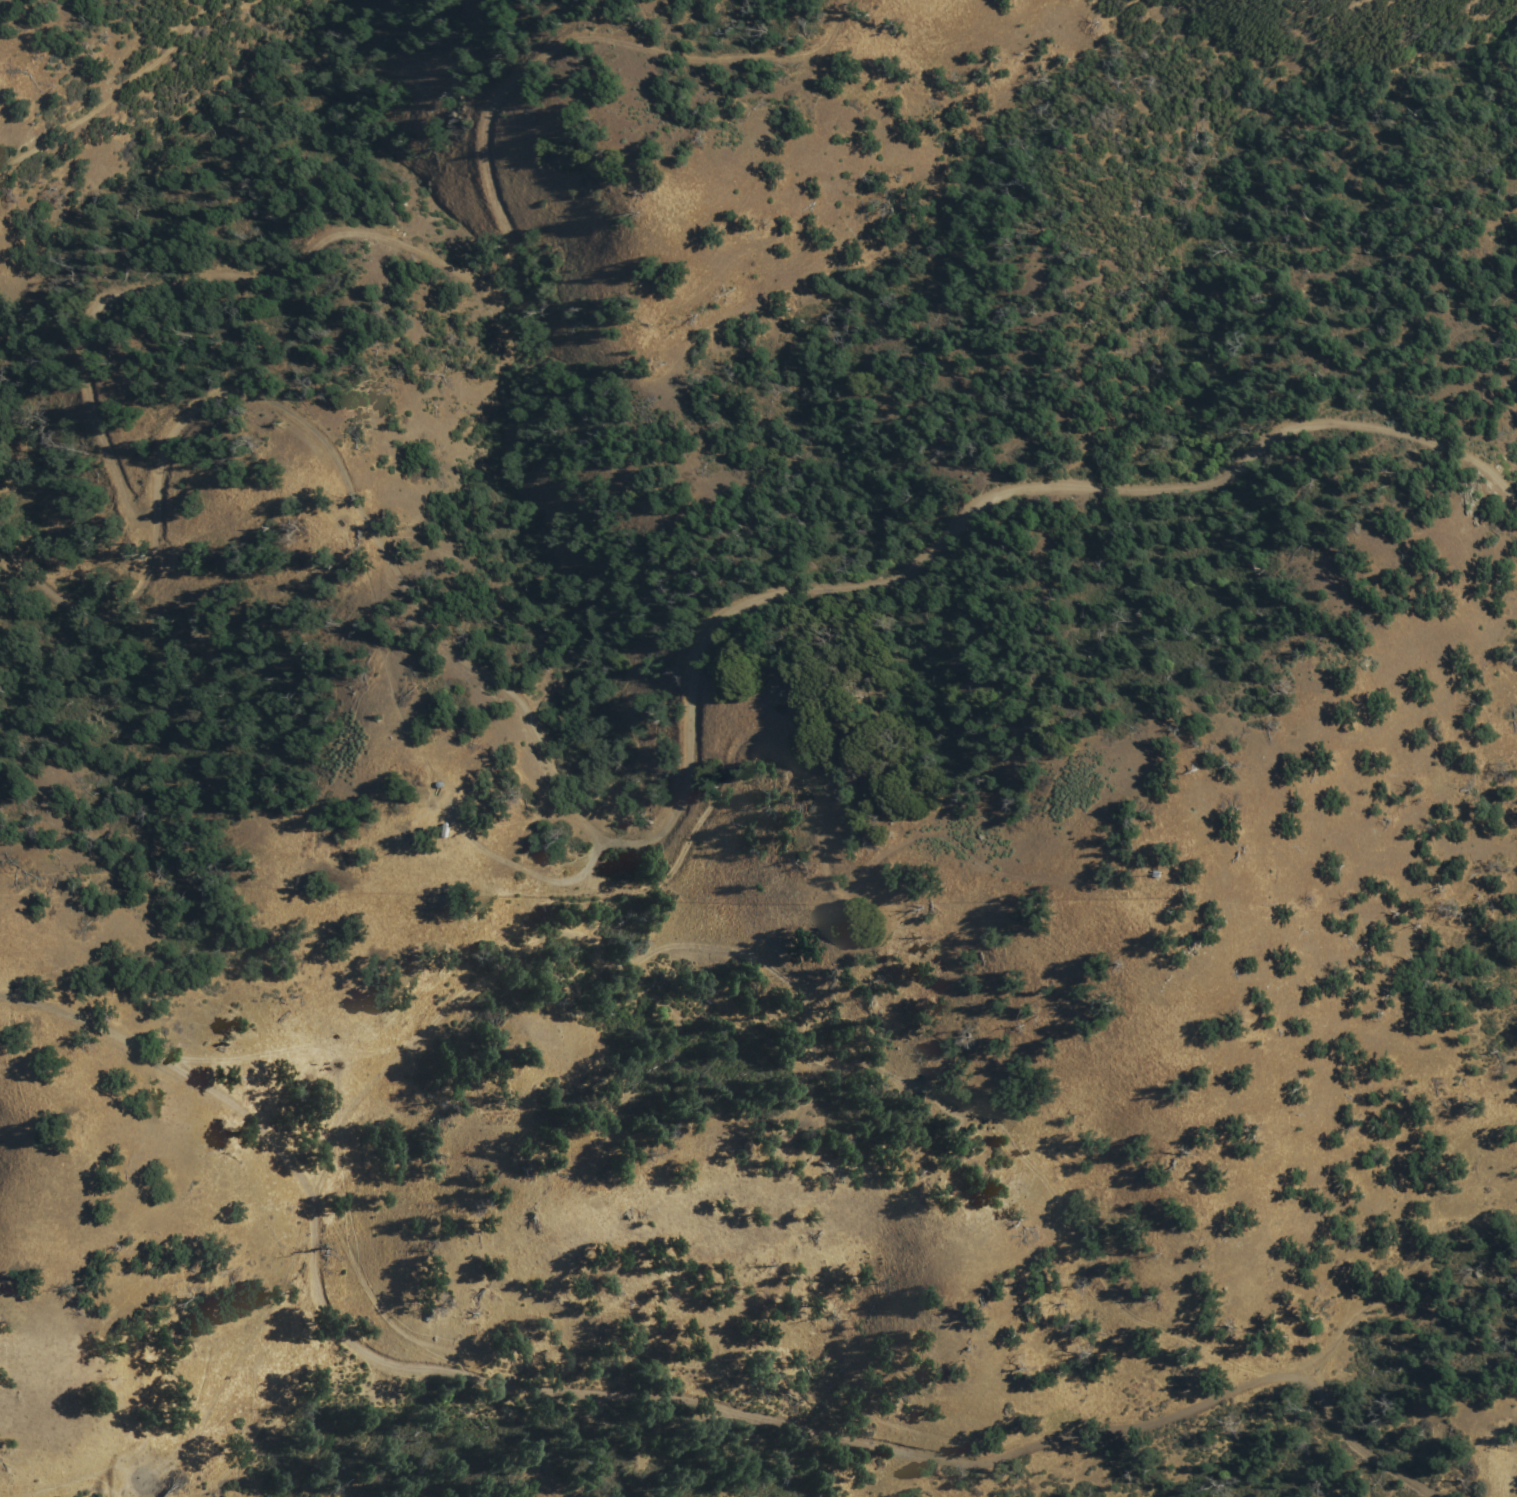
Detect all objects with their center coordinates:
road: (643, 1357)

